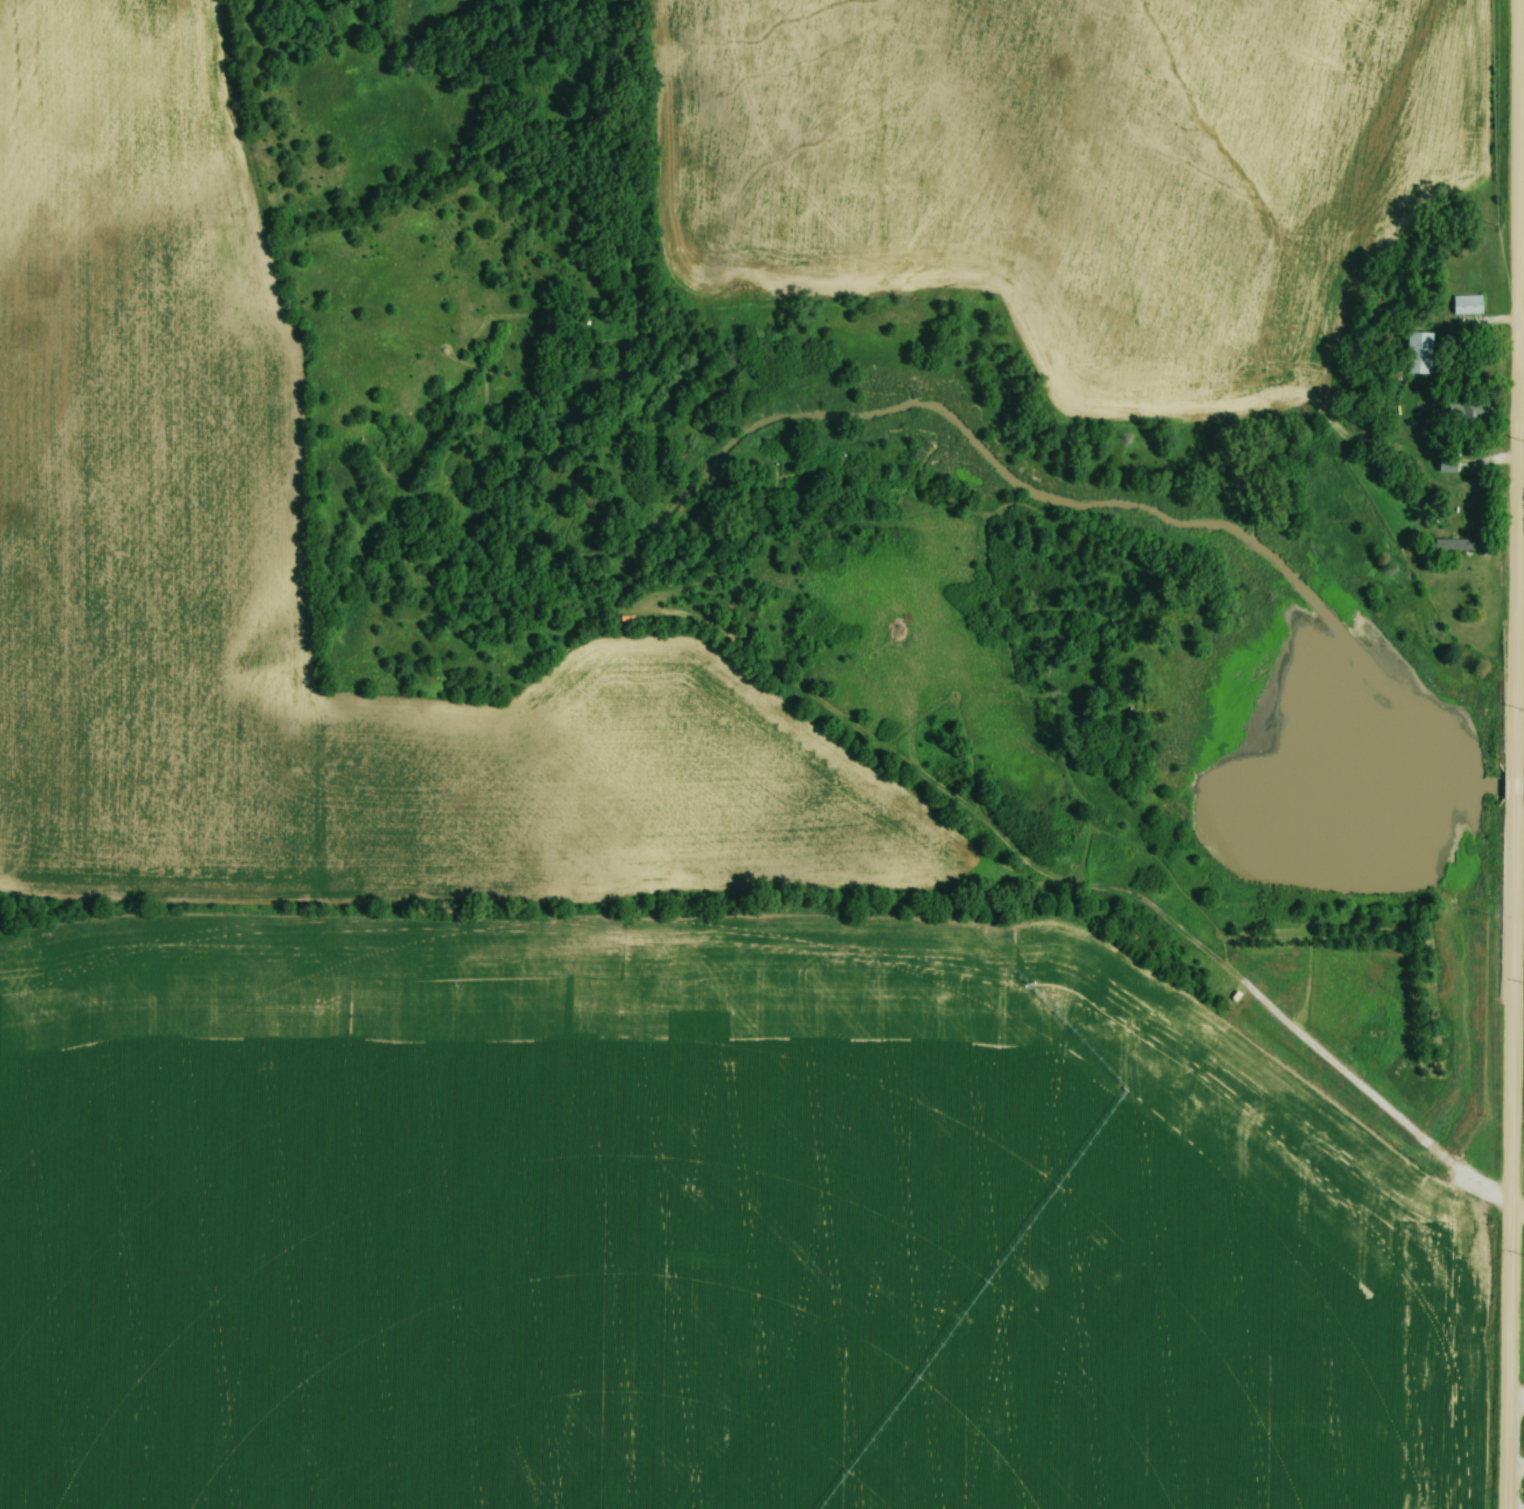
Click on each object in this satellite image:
building: (1475, 296)
building: (1464, 305)
building: (1425, 340)
building: (1414, 353)
road: (1522, 381)
road: (1523, 395)
building: (1464, 411)
building: (1443, 464)
building: (1454, 547)
road: (1519, 774)
road: (1515, 1147)
road: (1518, 1465)
road: (1518, 1505)

